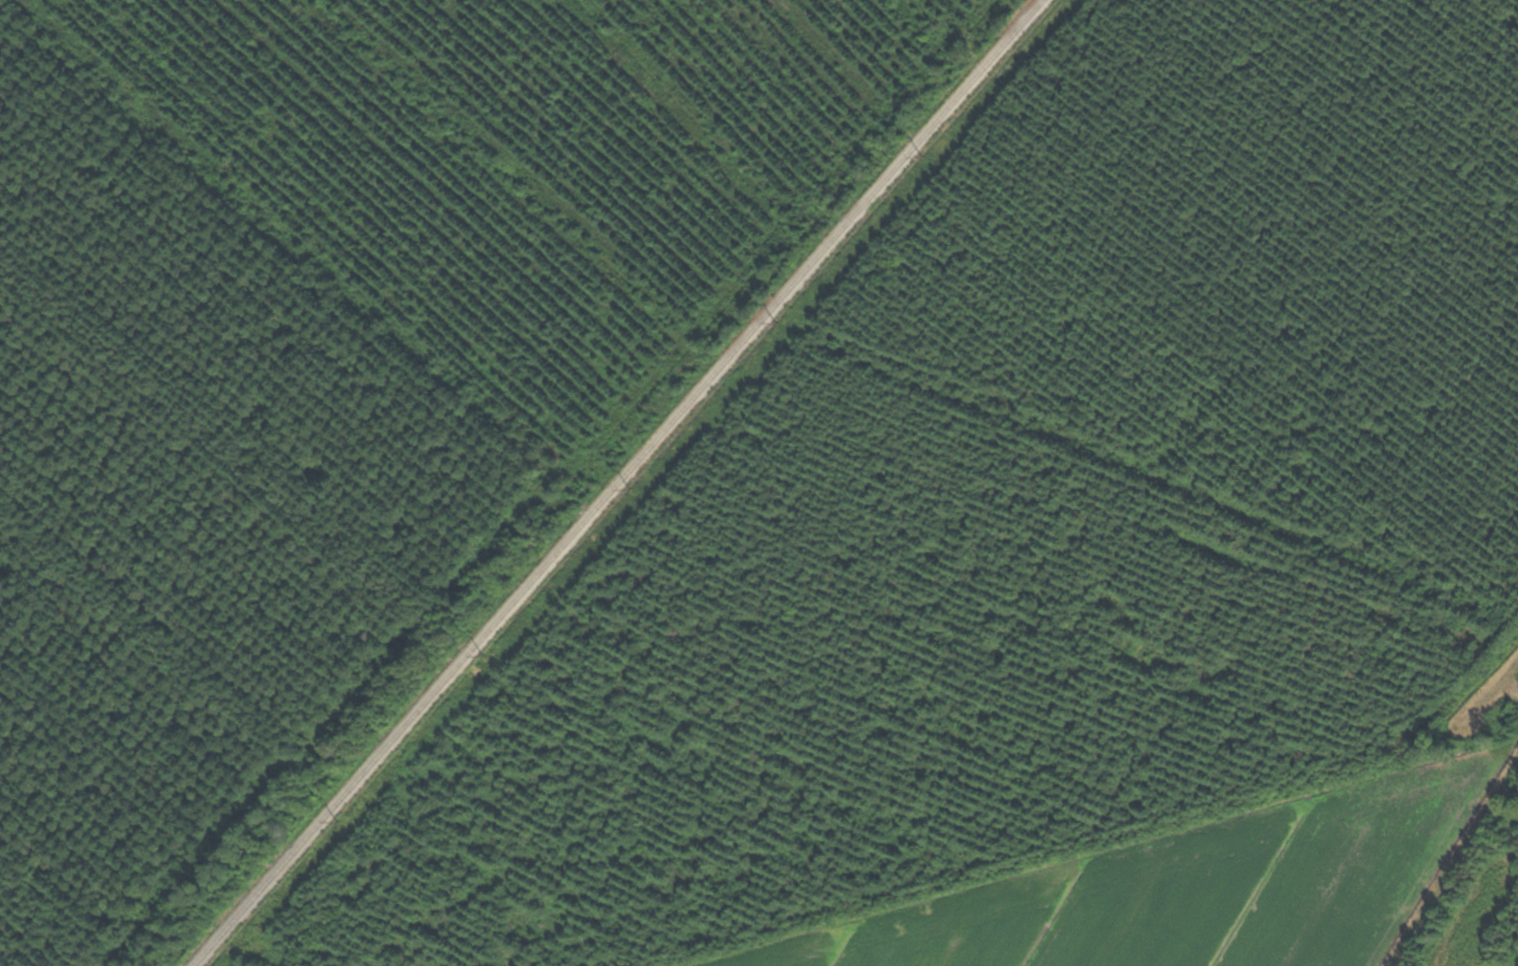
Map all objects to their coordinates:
power tower: (924, 154)
power tower: (781, 319)
railway: (622, 483)
power tower: (634, 486)
power tower: (487, 654)
power tower: (341, 821)
road: (1212, 872)

